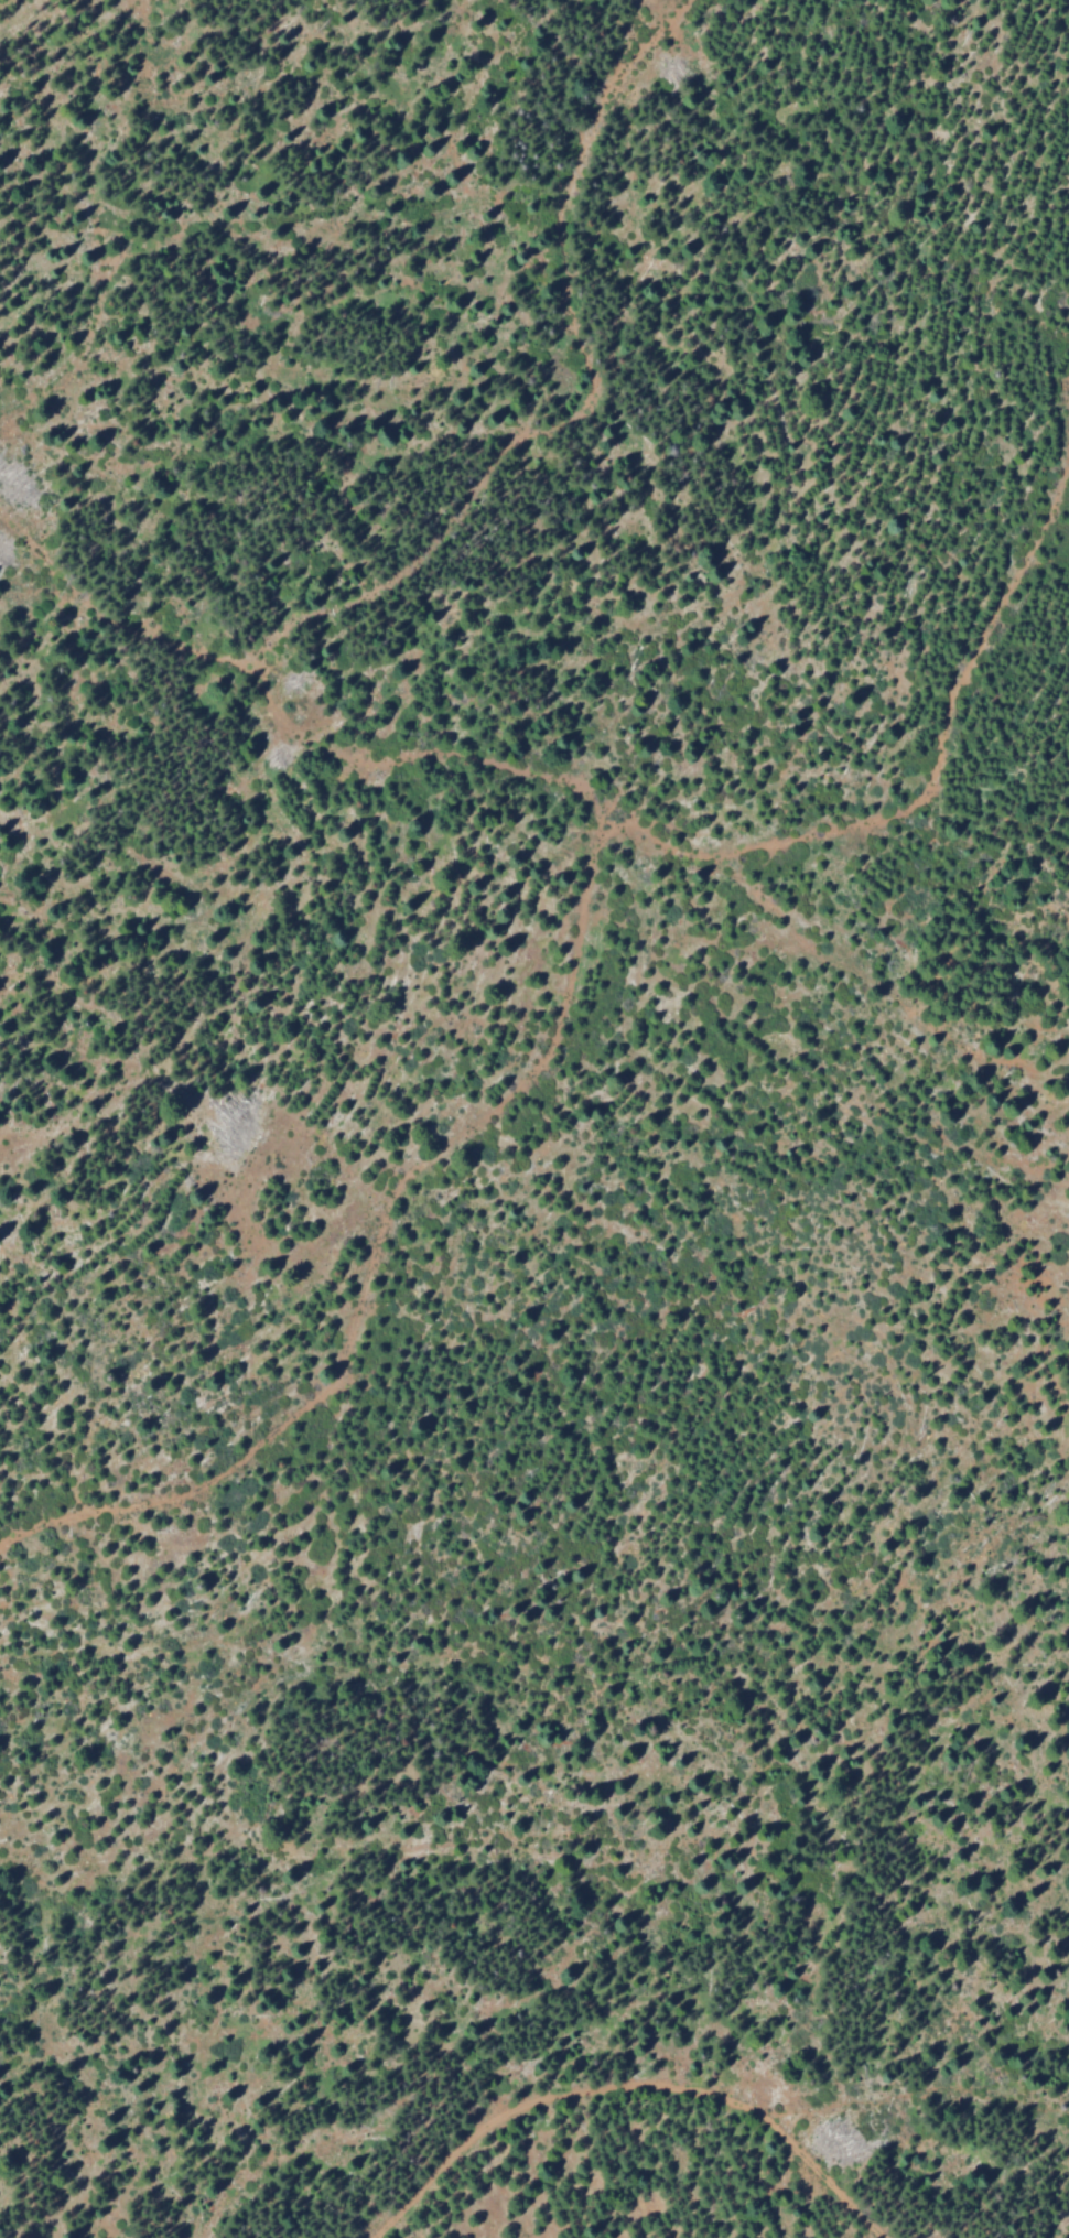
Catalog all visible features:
road: (577, 404)
road: (613, 814)
road: (375, 1247)
road: (633, 2088)

